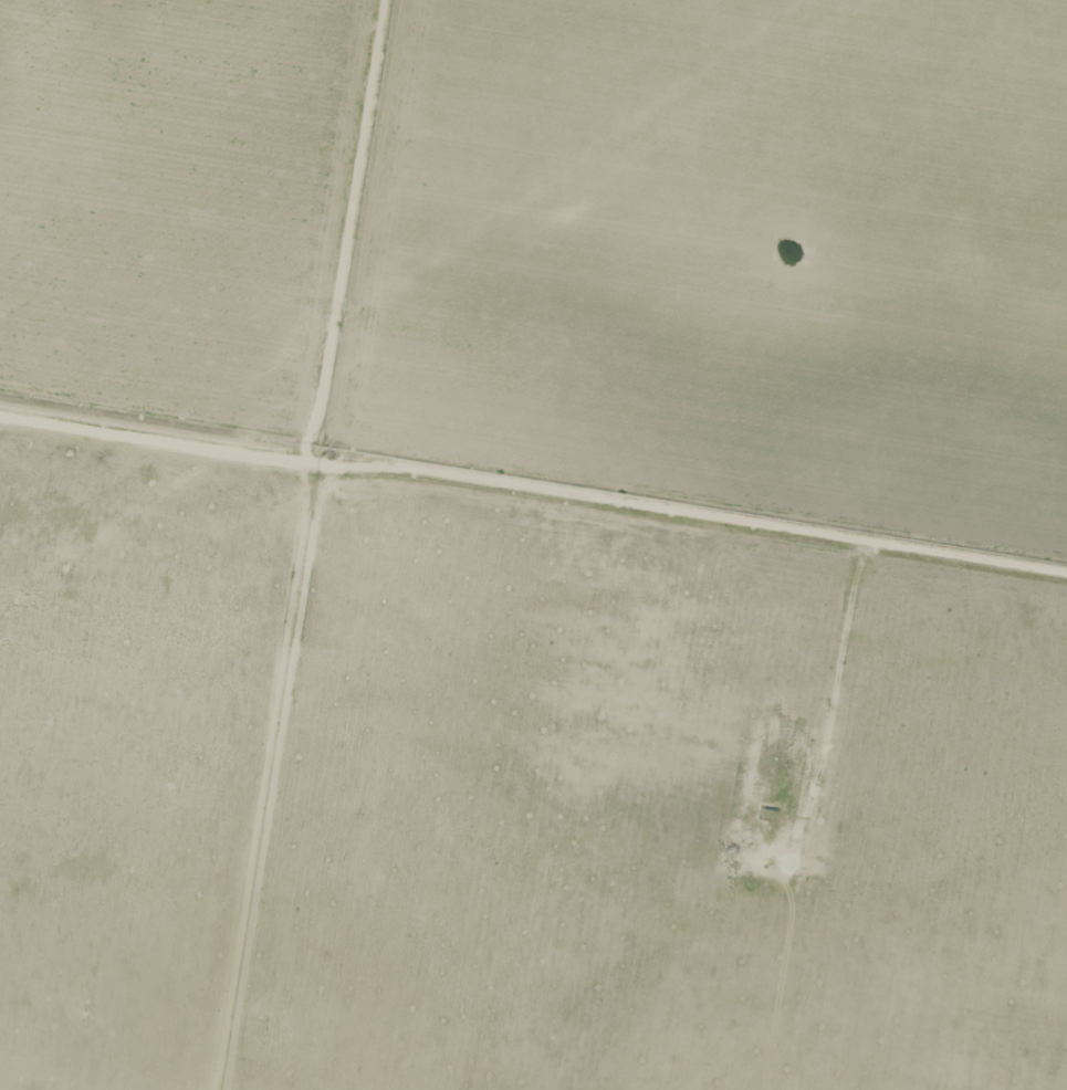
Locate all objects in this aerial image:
road: (344, 227)
road: (533, 488)

